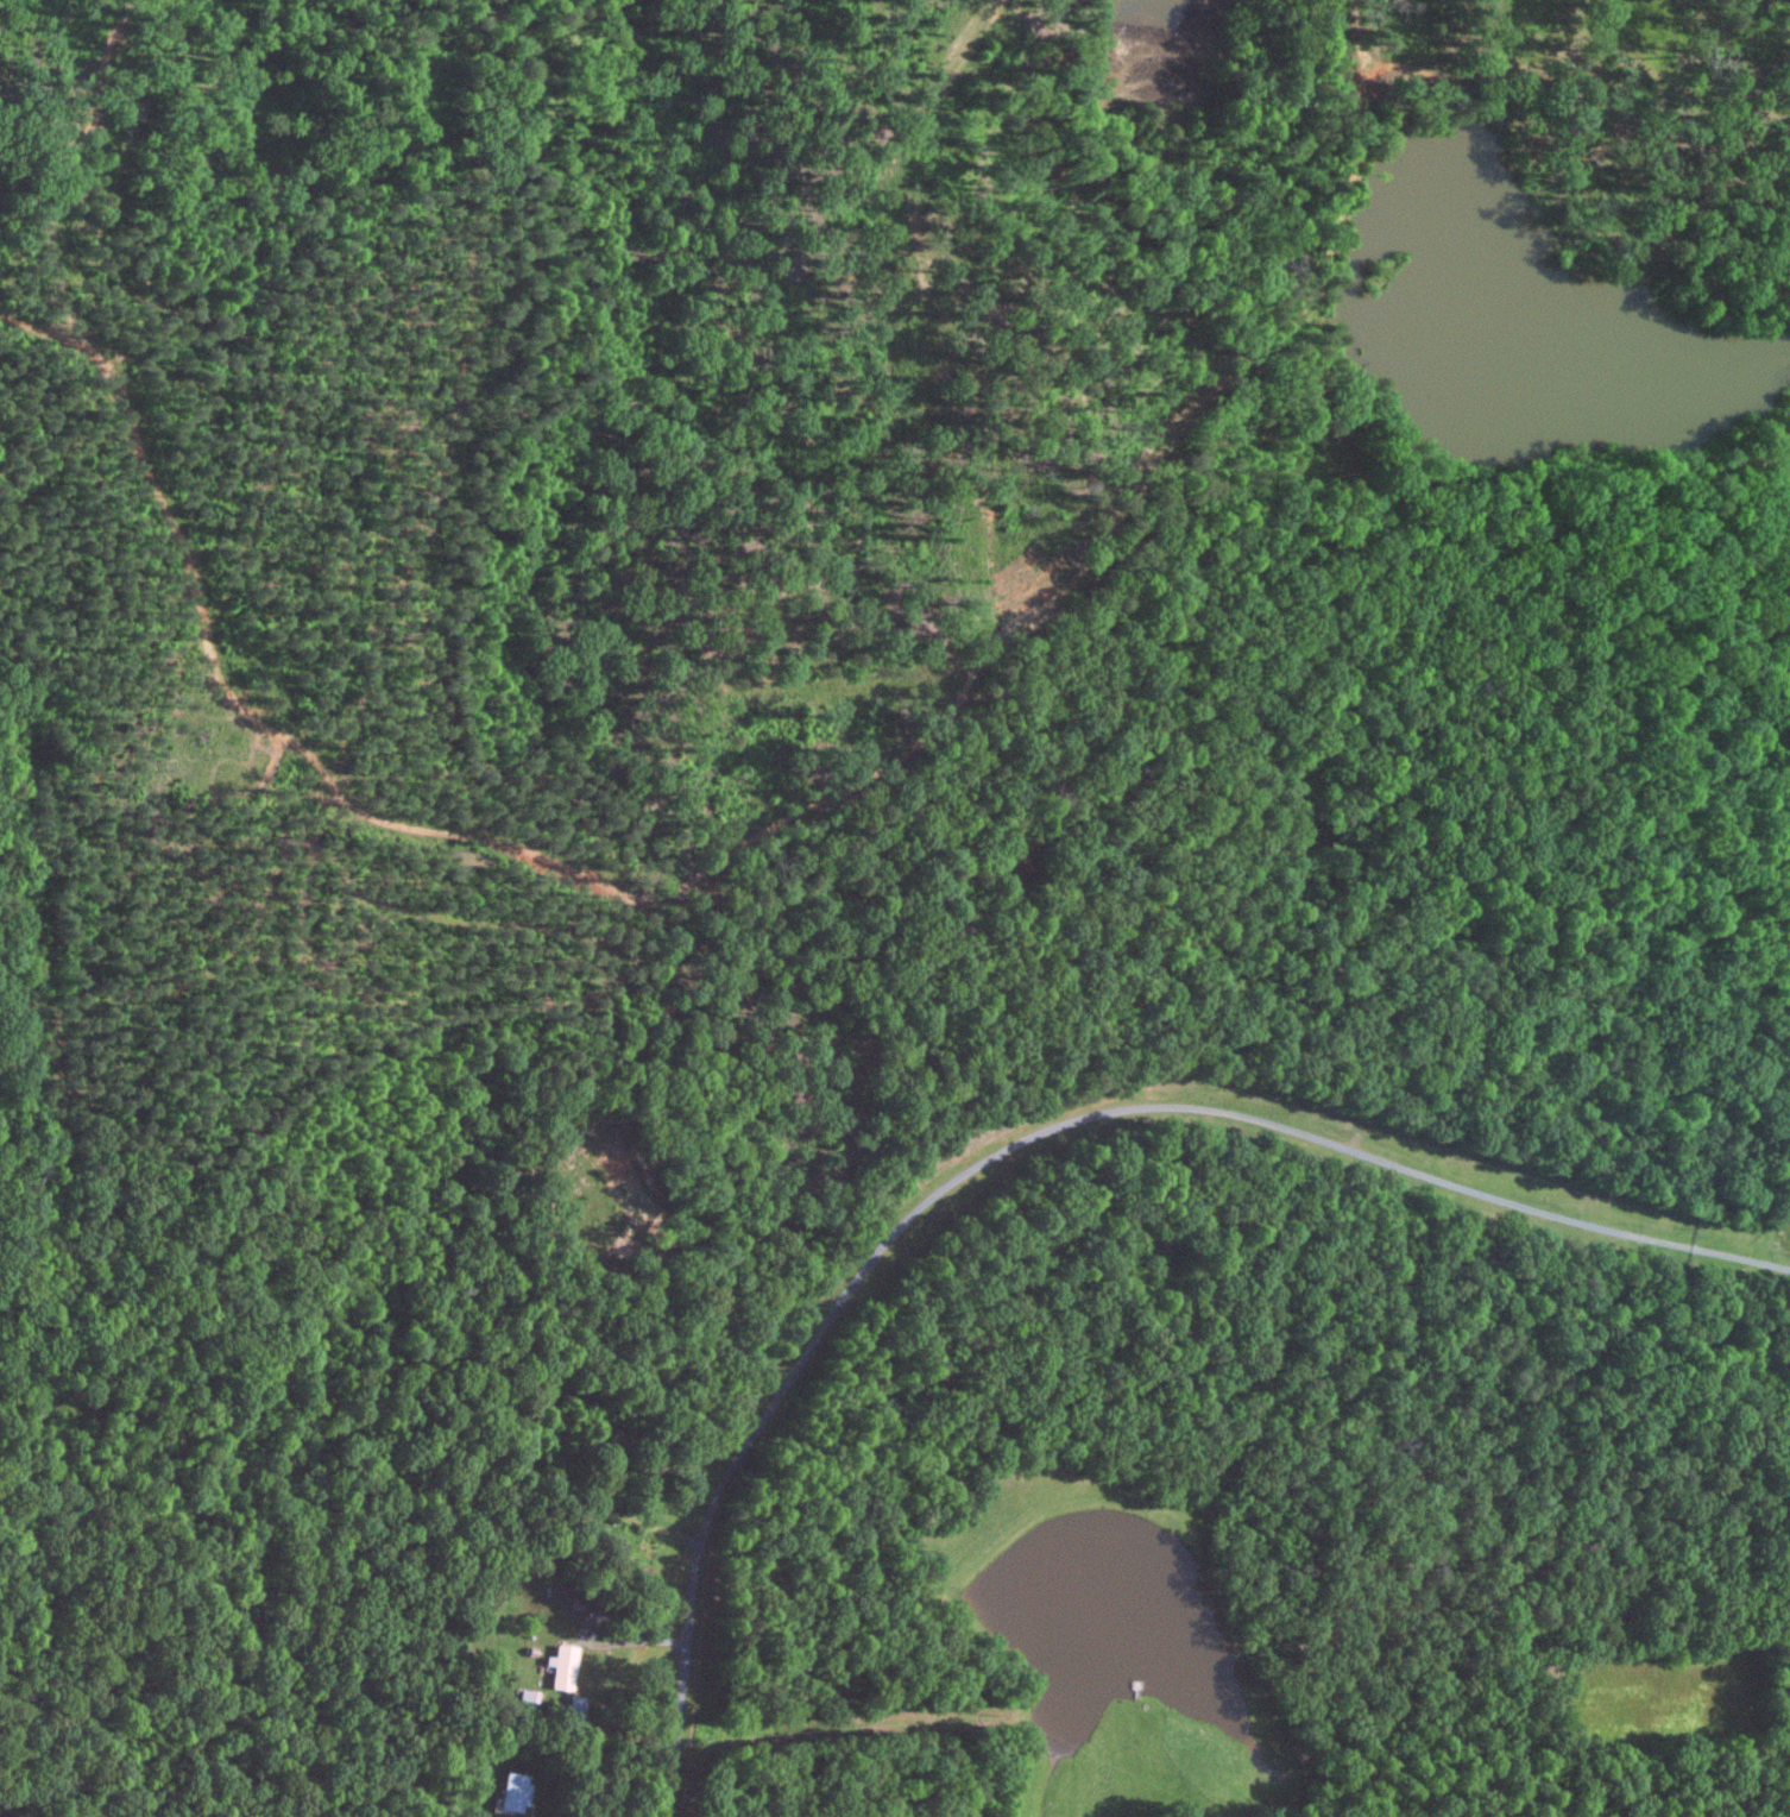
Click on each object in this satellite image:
road: (1019, 1143)
road: (597, 1643)
building: (561, 1666)
building: (515, 1791)

